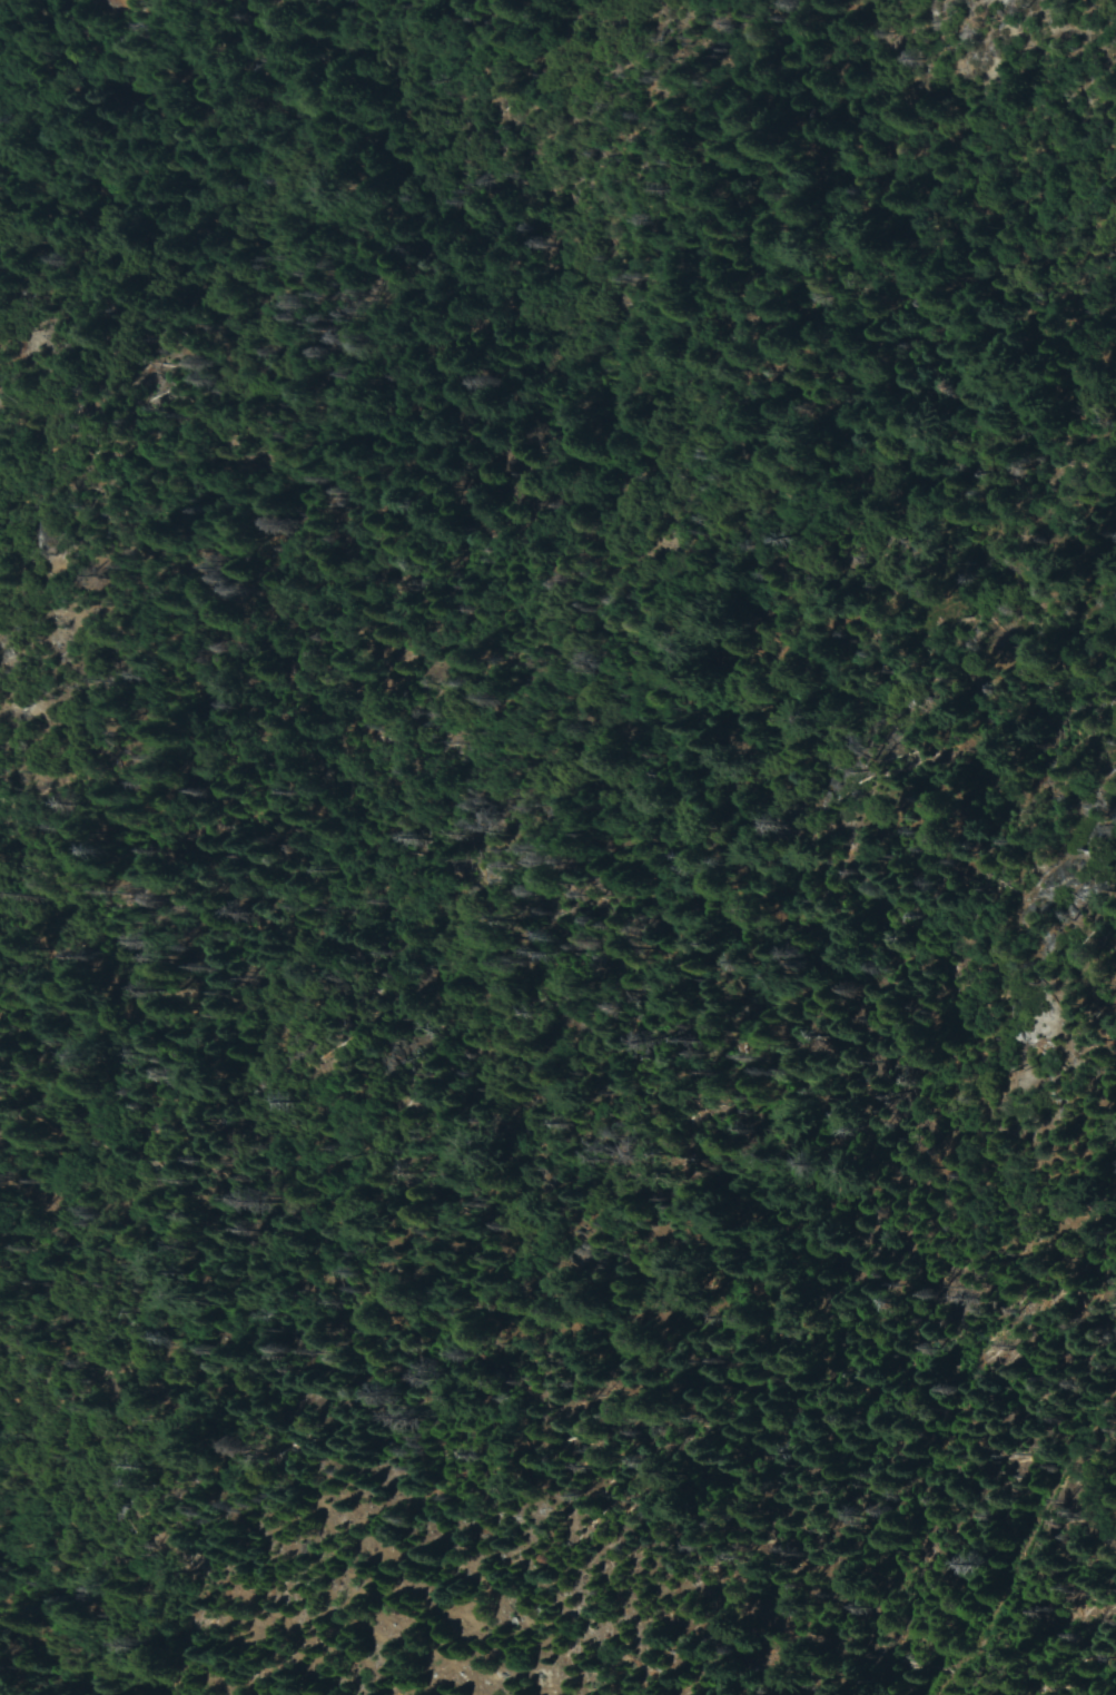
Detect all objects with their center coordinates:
road: (1024, 1538)

